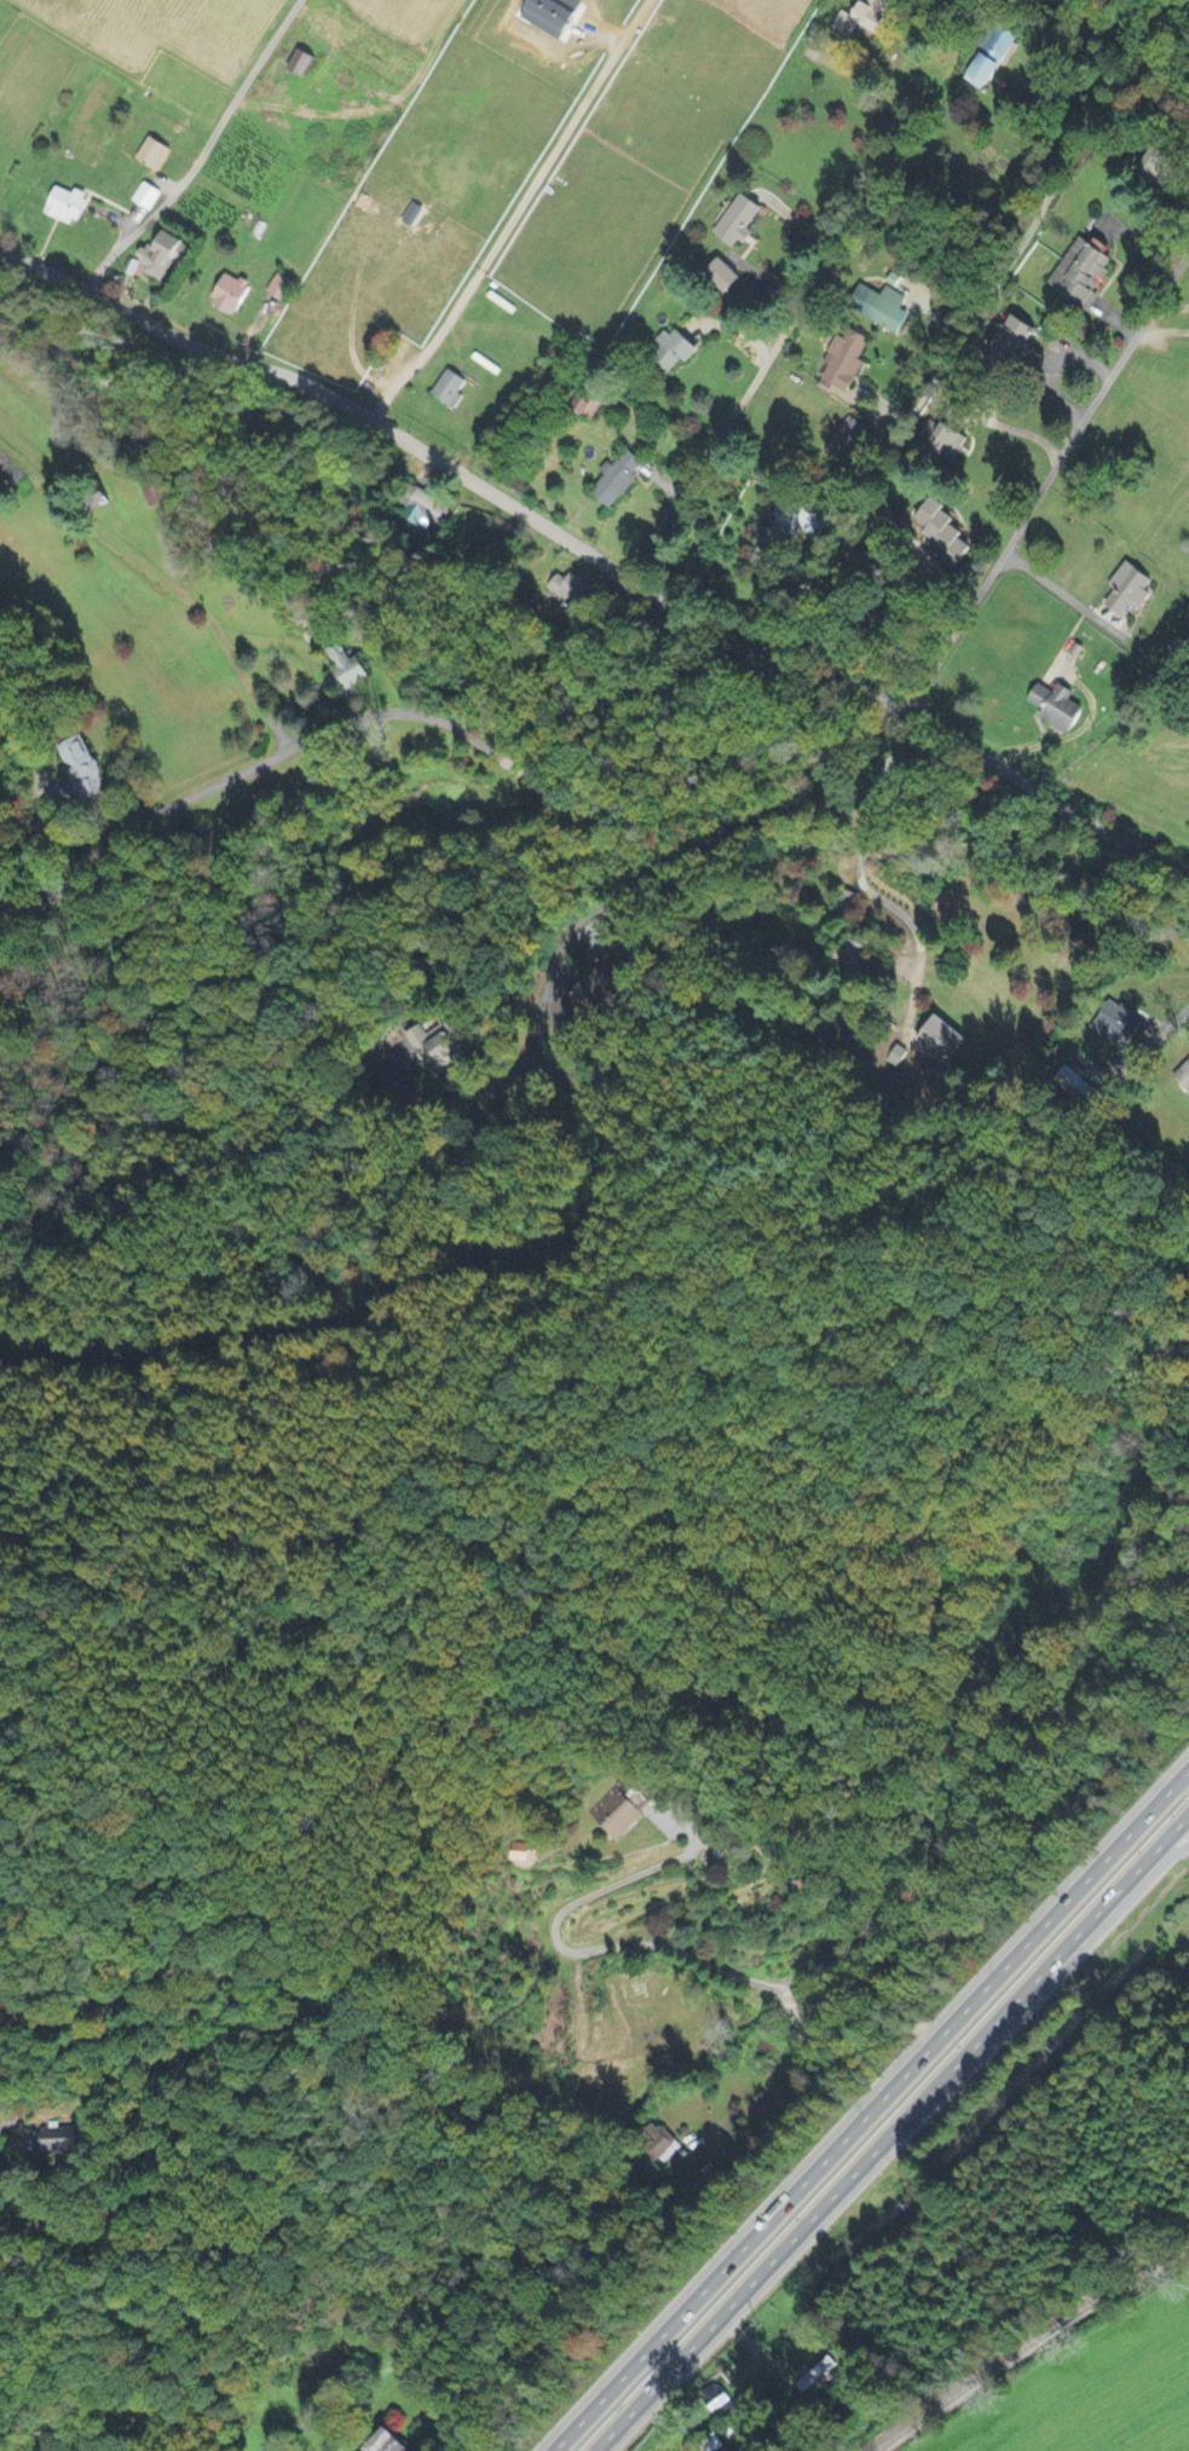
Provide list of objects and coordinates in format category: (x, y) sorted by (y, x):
building: (865, 19)
building: (1000, 42)
building: (302, 65)
building: (982, 73)
road: (206, 150)
building: (155, 155)
building: (148, 198)
building: (68, 207)
road: (515, 214)
building: (739, 224)
building: (161, 258)
building: (1083, 273)
road: (22, 283)
building: (281, 289)
building: (231, 296)
building: (883, 310)
road: (787, 328)
building: (1014, 345)
building: (673, 351)
building: (845, 363)
building: (450, 391)
road: (913, 407)
building: (848, 440)
building: (952, 443)
road: (1044, 475)
building: (619, 480)
building: (778, 541)
road: (594, 554)
road: (1055, 586)
building: (1130, 589)
road: (150, 609)
building: (346, 672)
building: (1058, 706)
road: (445, 722)
road: (861, 865)
road: (646, 877)
road: (1174, 1021)
building: (941, 1041)
building: (1183, 1077)
road: (490, 1086)
road: (381, 1303)
building: (621, 1820)
road: (1139, 1880)
road: (676, 1949)
road: (270, 2022)
road: (761, 2100)
road: (870, 2109)
road: (7, 2123)
road: (890, 2132)
building: (64, 2140)
railway: (1017, 2341)
building: (814, 2376)
building: (388, 2443)

